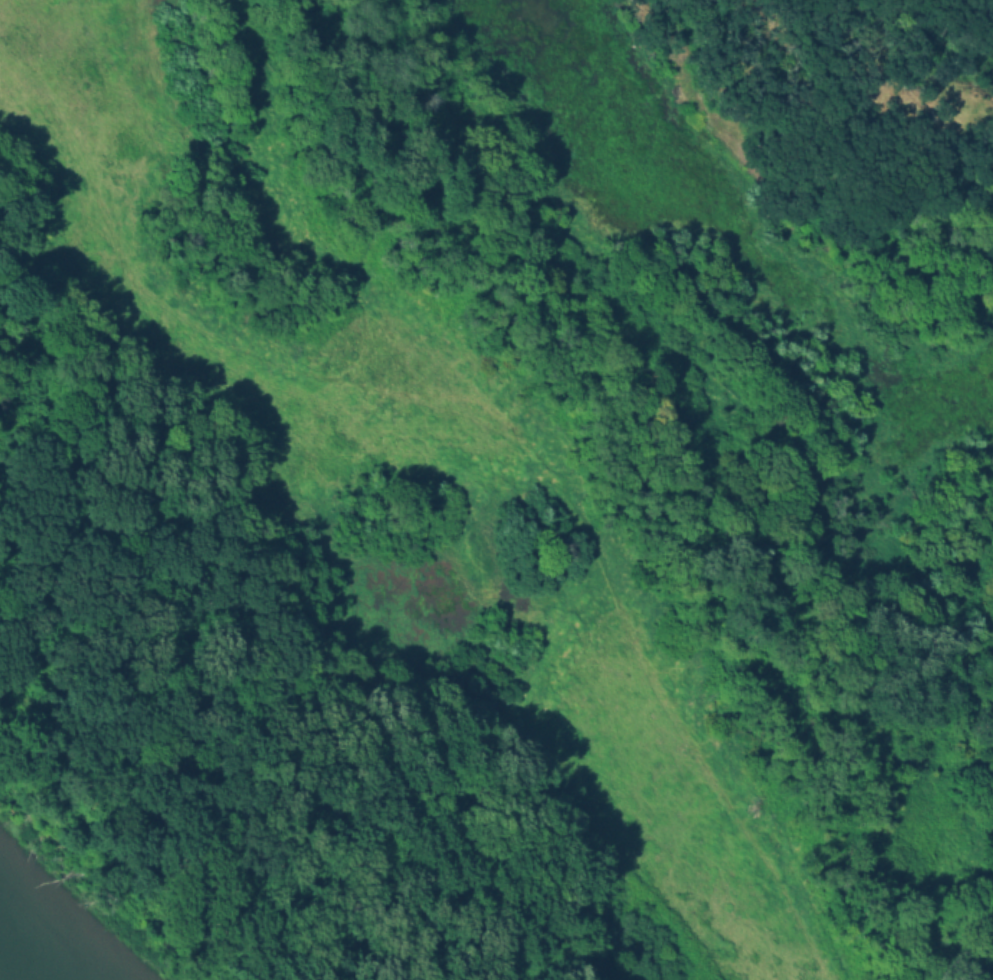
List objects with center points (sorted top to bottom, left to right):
river: (2, 977)

